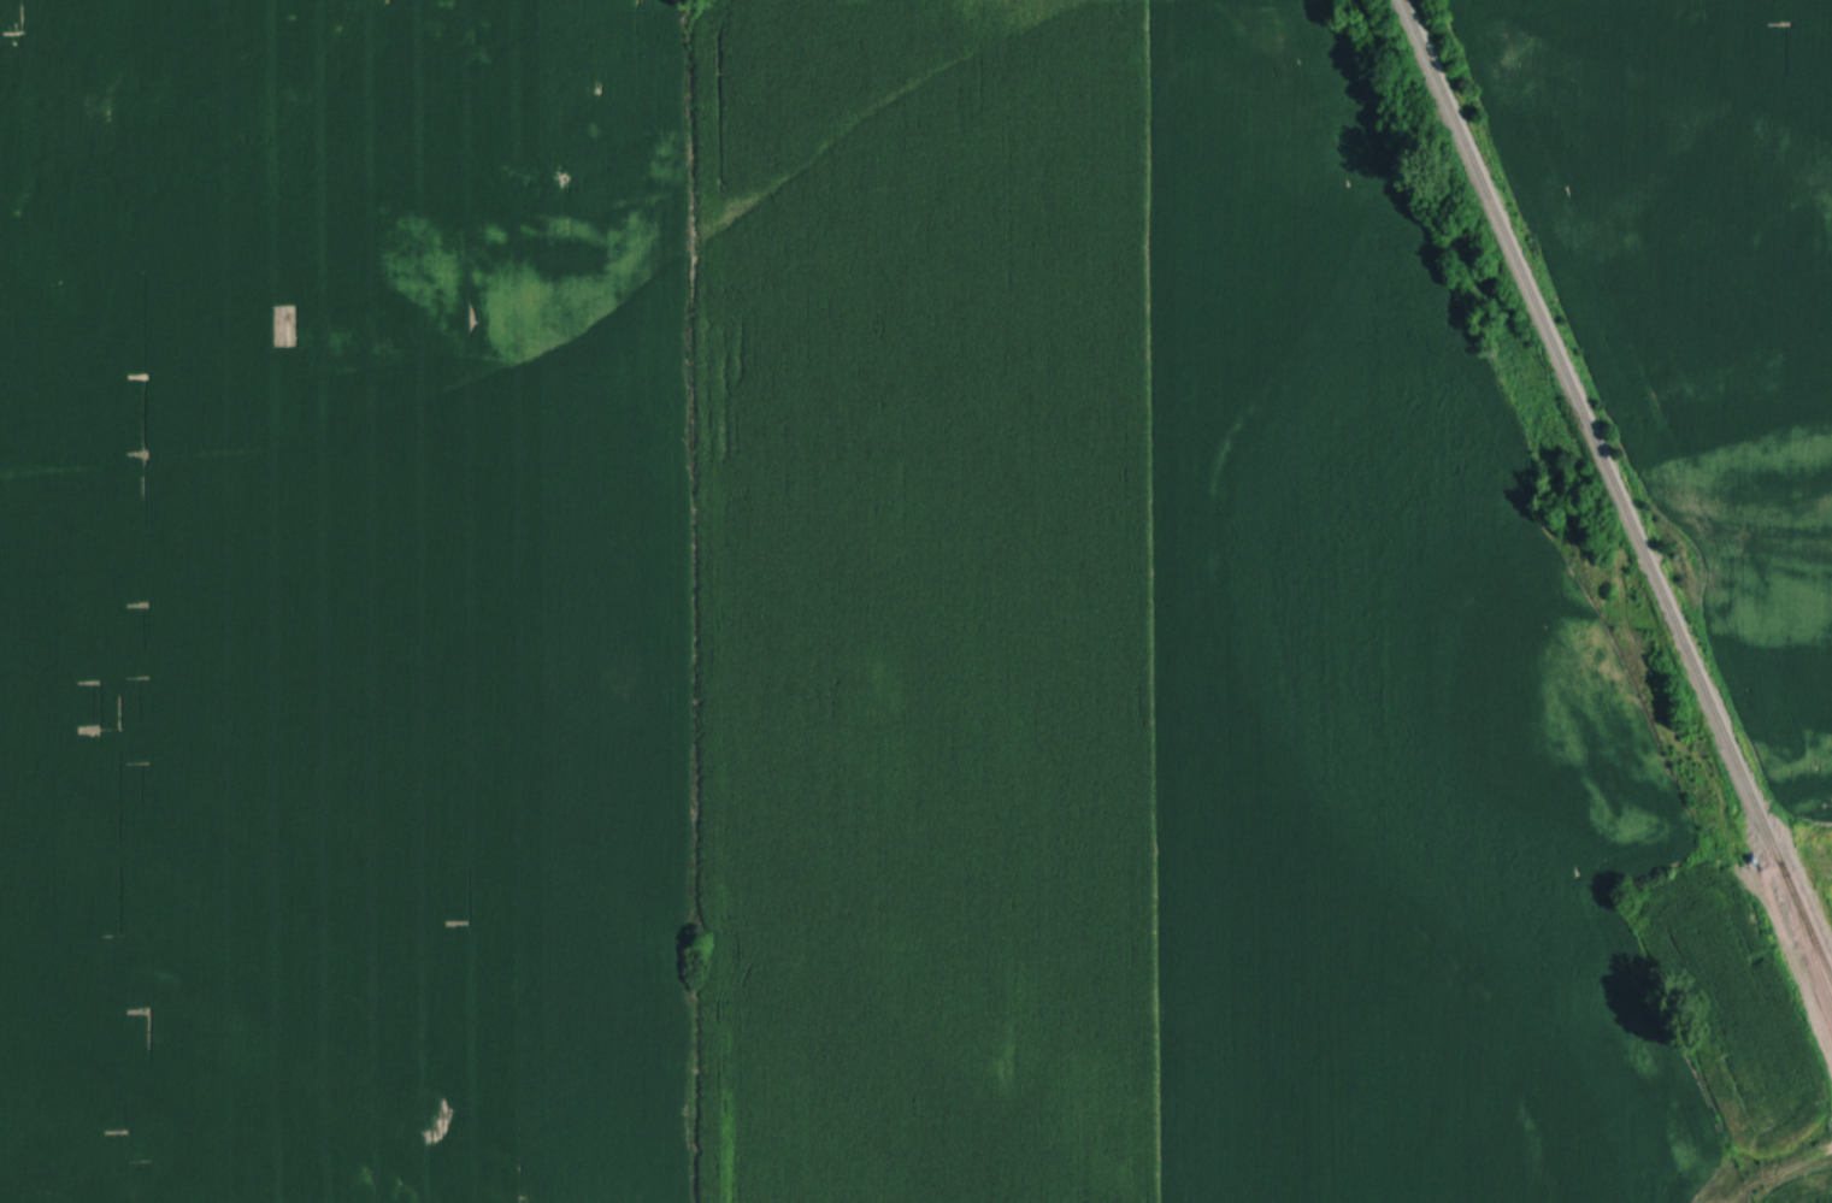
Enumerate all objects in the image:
railway: (1618, 488)
railway: (1809, 944)

